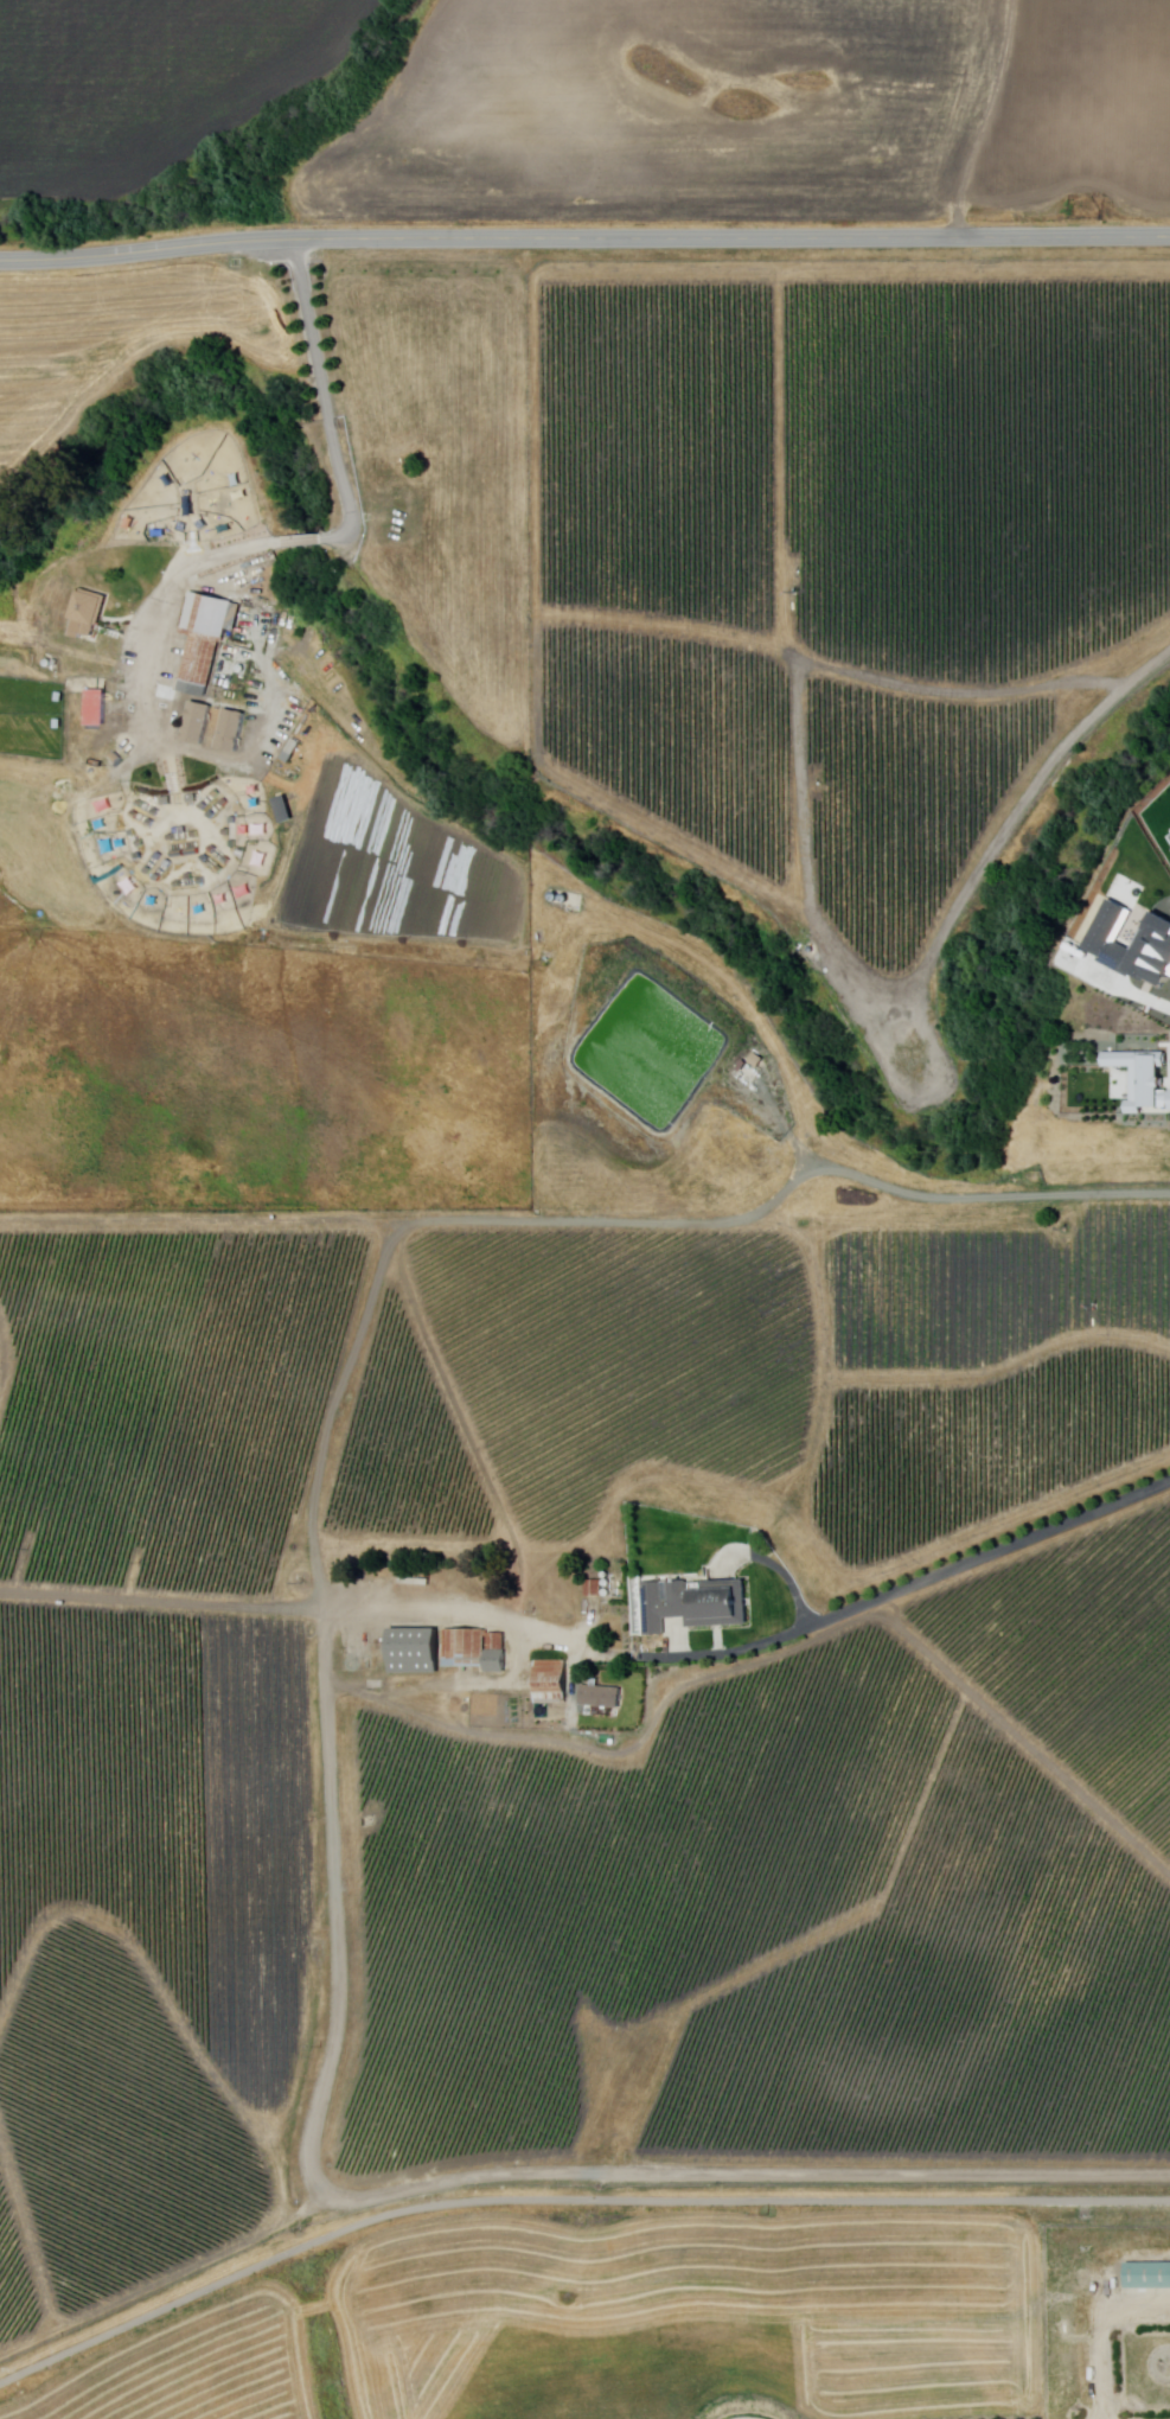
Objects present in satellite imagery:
crop: (146, 84)
crop: (1081, 109)
crop: (667, 114)
road: (992, 119)
road: (584, 238)
crop: (115, 339)
road: (326, 389)
crop: (441, 459)
road: (311, 541)
crop: (843, 557)
road: (165, 600)
building: (89, 613)
building: (205, 639)
building: (96, 708)
building: (198, 723)
building: (231, 732)
building: (117, 758)
building: (217, 794)
building: (225, 803)
building: (141, 804)
building: (204, 806)
building: (156, 812)
building: (135, 815)
building: (212, 816)
building: (234, 821)
building: (152, 823)
building: (184, 830)
building: (228, 832)
building: (133, 834)
building: (196, 835)
building: (172, 838)
crop: (352, 840)
building: (141, 843)
building: (234, 844)
building: (213, 850)
building: (186, 854)
building: (242, 854)
building: (159, 856)
building: (139, 857)
building: (206, 860)
building: (228, 861)
building: (168, 863)
building: (220, 870)
building: (148, 872)
building: (190, 877)
building: (158, 879)
building: (200, 882)
building: (179, 885)
storage tank: (556, 896)
storage tank: (565, 899)
building: (1106, 945)
building: (757, 1061)
building: (1142, 1077)
crop: (192, 1330)
crop: (759, 1376)
building: (229, 1512)
storage tank: (212, 1517)
storage tank: (225, 1524)
storage tank: (239, 1533)
storage tank: (607, 1575)
storage tank: (607, 1583)
road: (908, 1588)
building: (595, 1589)
building: (551, 1590)
storage tank: (607, 1593)
building: (417, 1595)
building: (696, 1604)
building: (498, 1641)
building: (466, 1646)
building: (415, 1651)
building: (497, 1661)
building: (552, 1683)
building: (602, 1697)
road: (315, 2168)
road: (567, 2198)
building: (1150, 2277)

